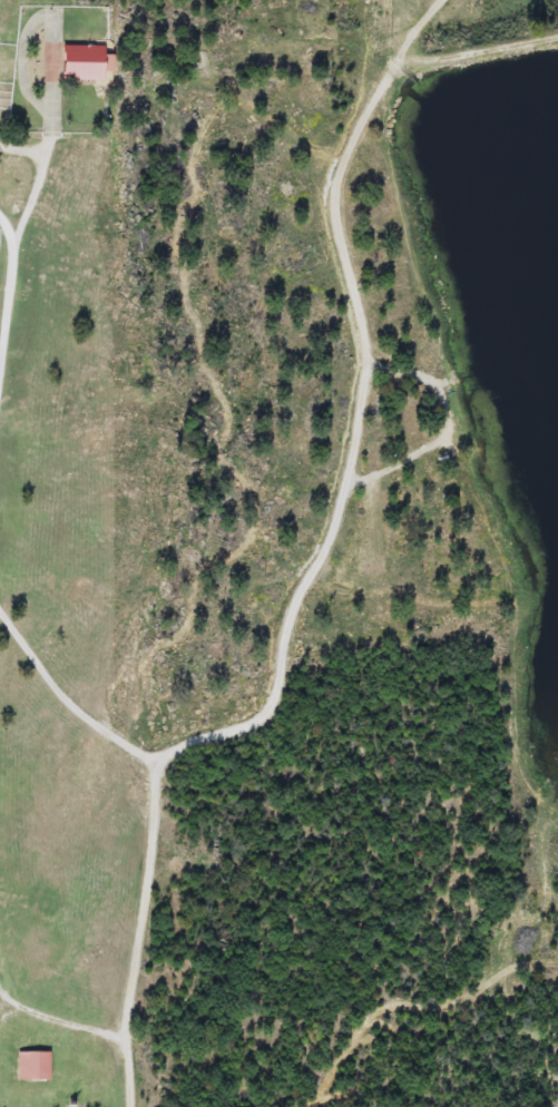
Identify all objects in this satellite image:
dam: (468, 52)
building: (84, 63)
road: (11, 300)
building: (498, 415)
road: (315, 572)
road: (69, 699)
road: (0, 991)
road: (63, 1017)
building: (33, 1067)

